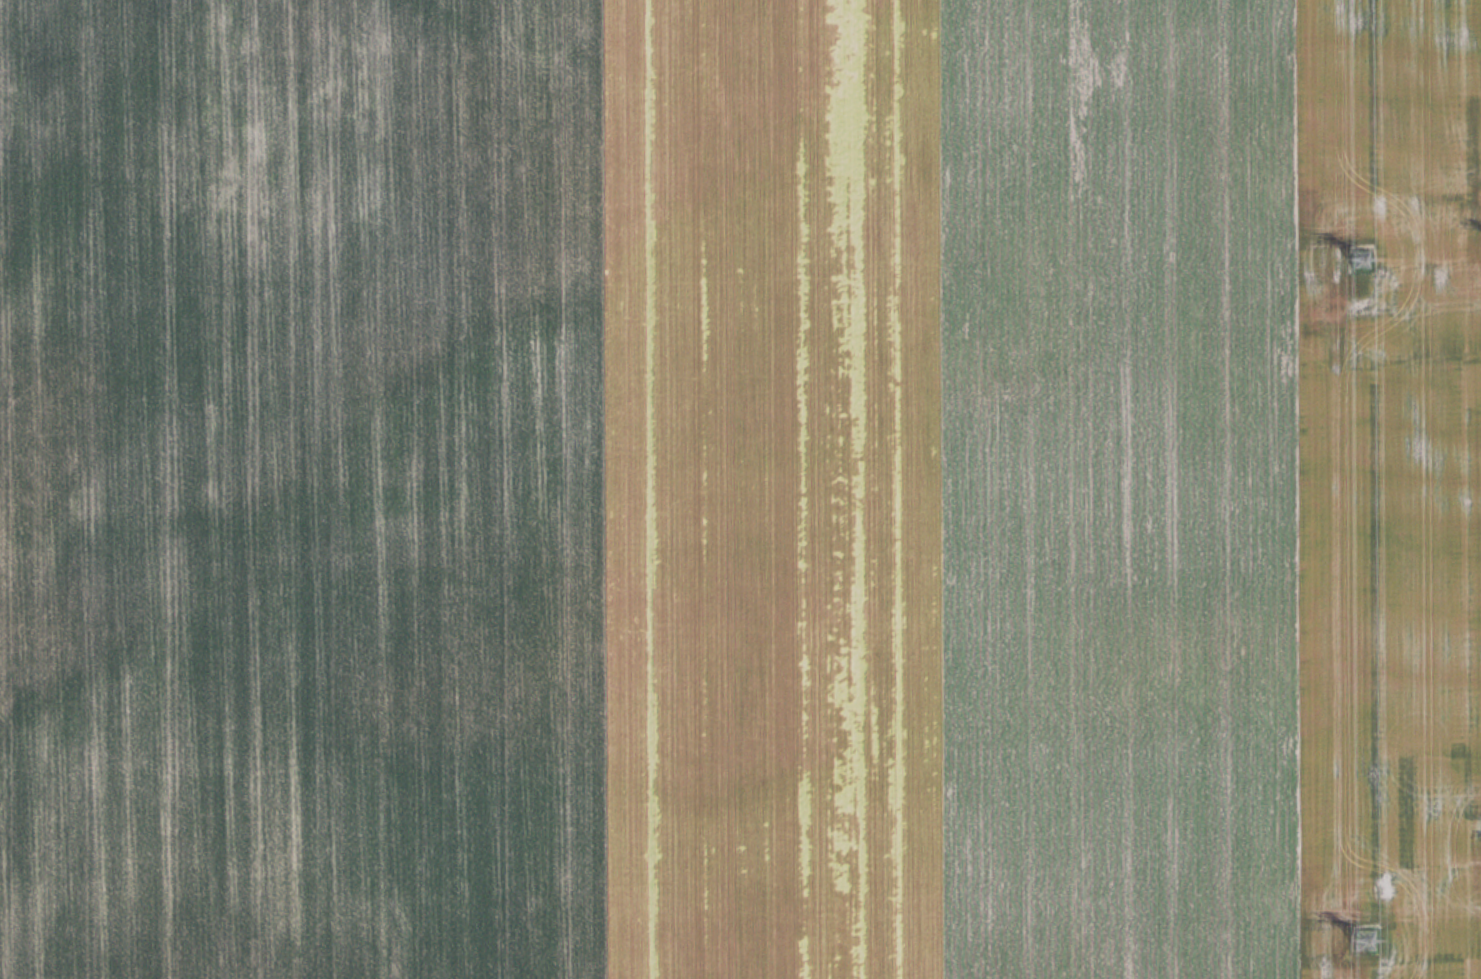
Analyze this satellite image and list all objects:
power tower: (1356, 258)
power tower: (1362, 937)

